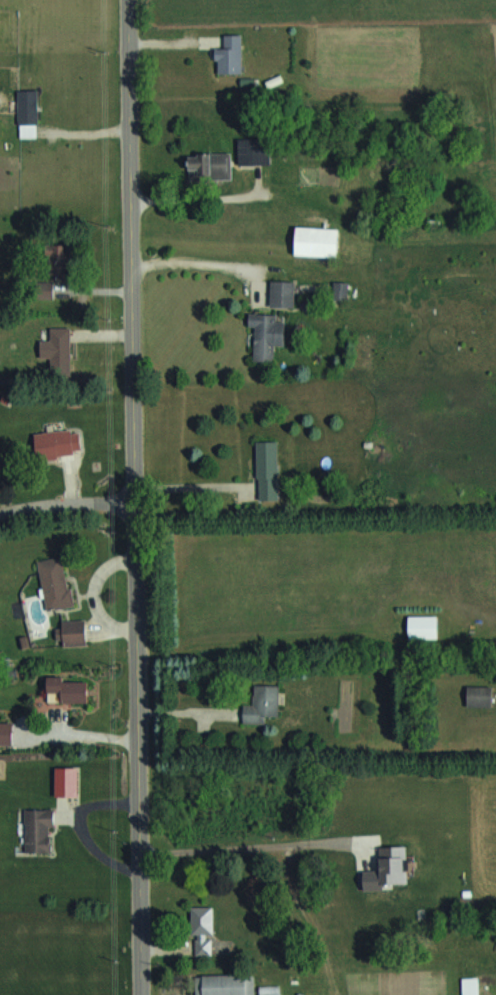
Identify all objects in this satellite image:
building: (232, 55)
building: (255, 150)
building: (212, 165)
road: (192, 197)
building: (319, 240)
building: (60, 260)
road: (186, 261)
building: (284, 292)
building: (269, 333)
building: (62, 349)
building: (60, 442)
building: (270, 470)
road: (187, 485)
road: (134, 497)
road: (67, 503)
building: (57, 582)
building: (425, 625)
building: (73, 630)
building: (70, 689)
building: (482, 695)
building: (264, 703)
building: (41, 830)
road: (250, 844)
building: (204, 930)
building: (234, 985)
building: (473, 985)

